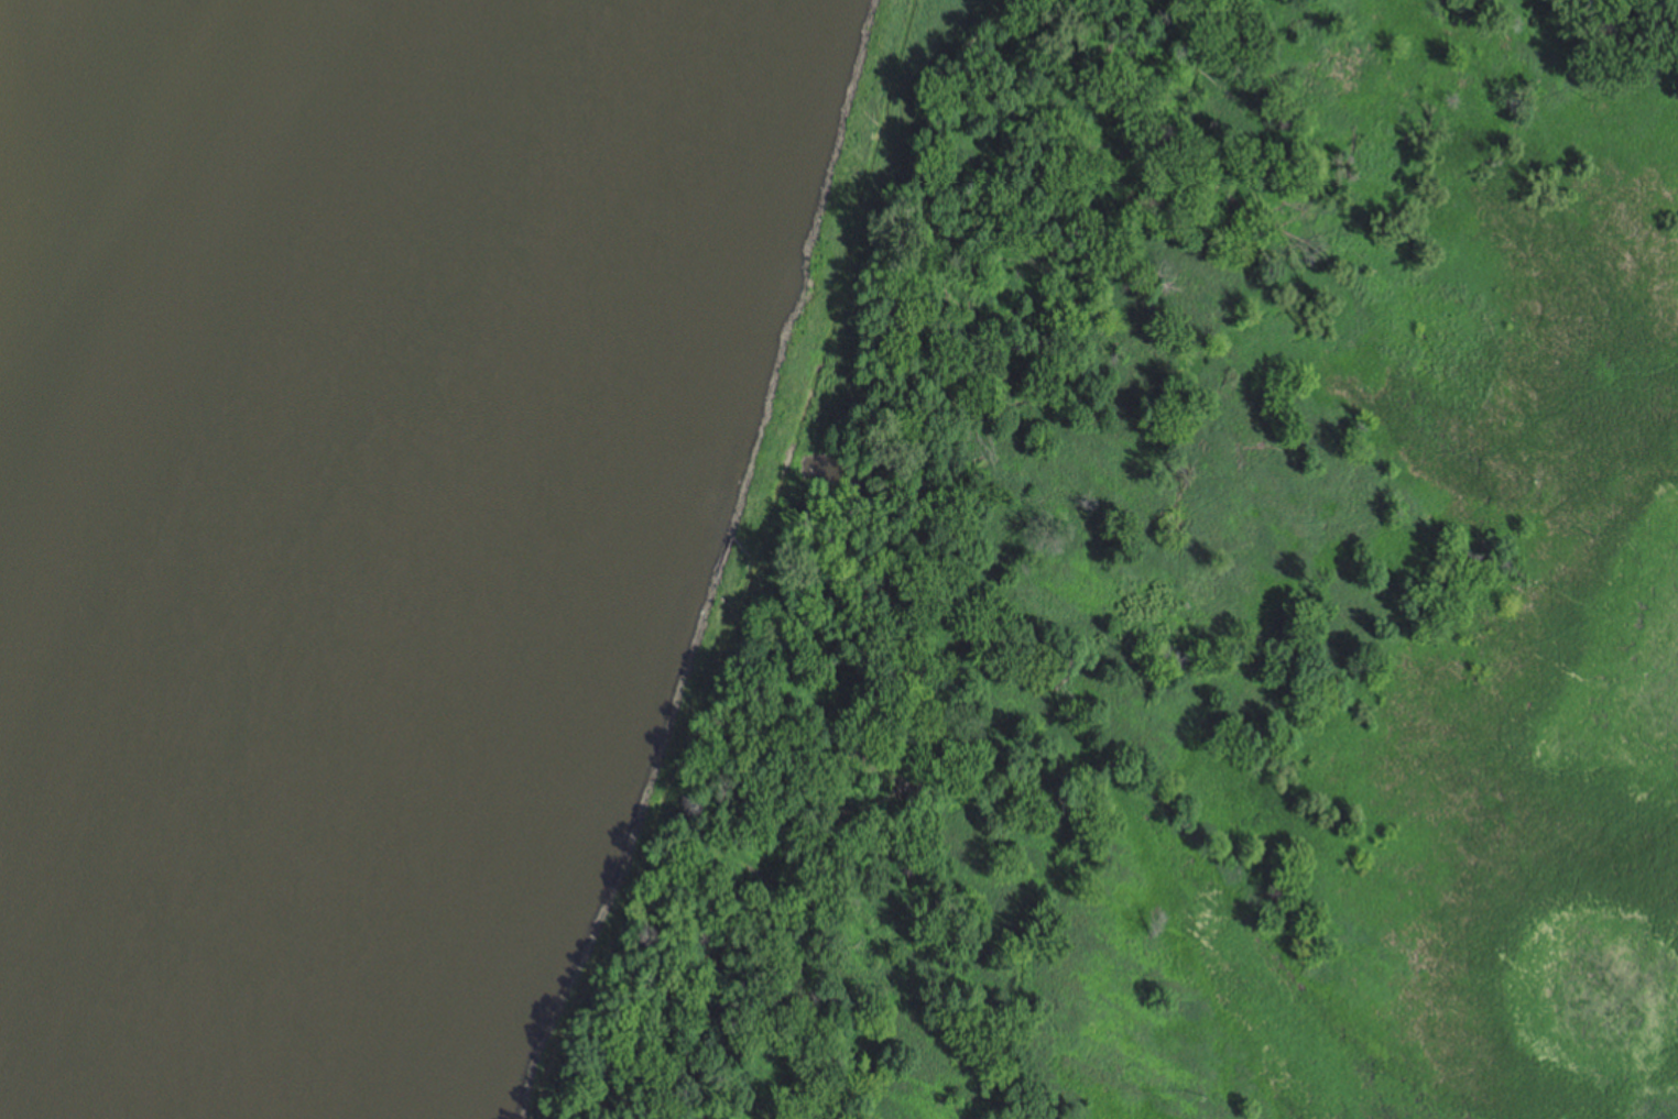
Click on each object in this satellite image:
river: (184, 495)

